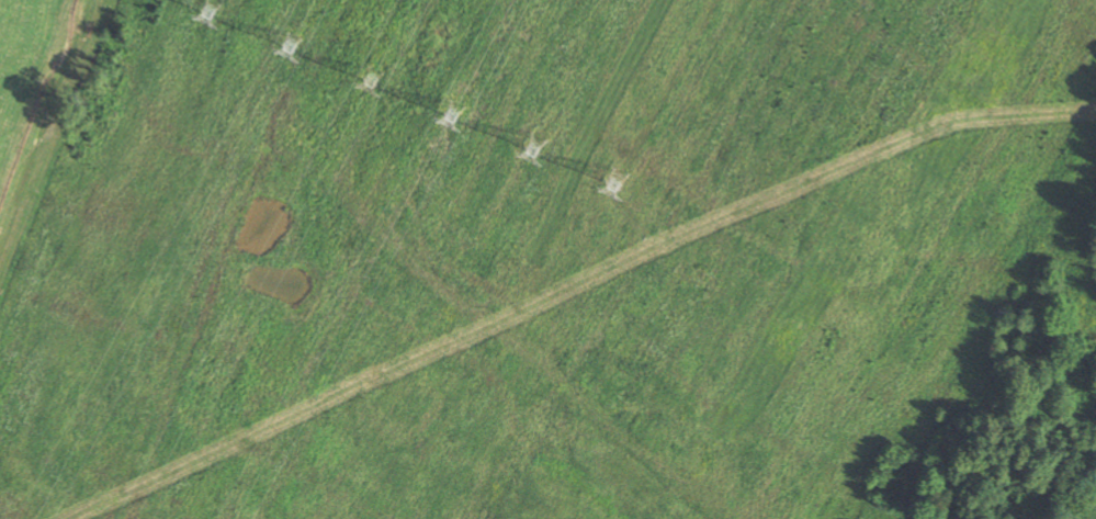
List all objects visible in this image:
power tower: (206, 9)
power tower: (286, 43)
power tower: (371, 75)
power tower: (447, 111)
power tower: (535, 170)
power tower: (610, 178)

